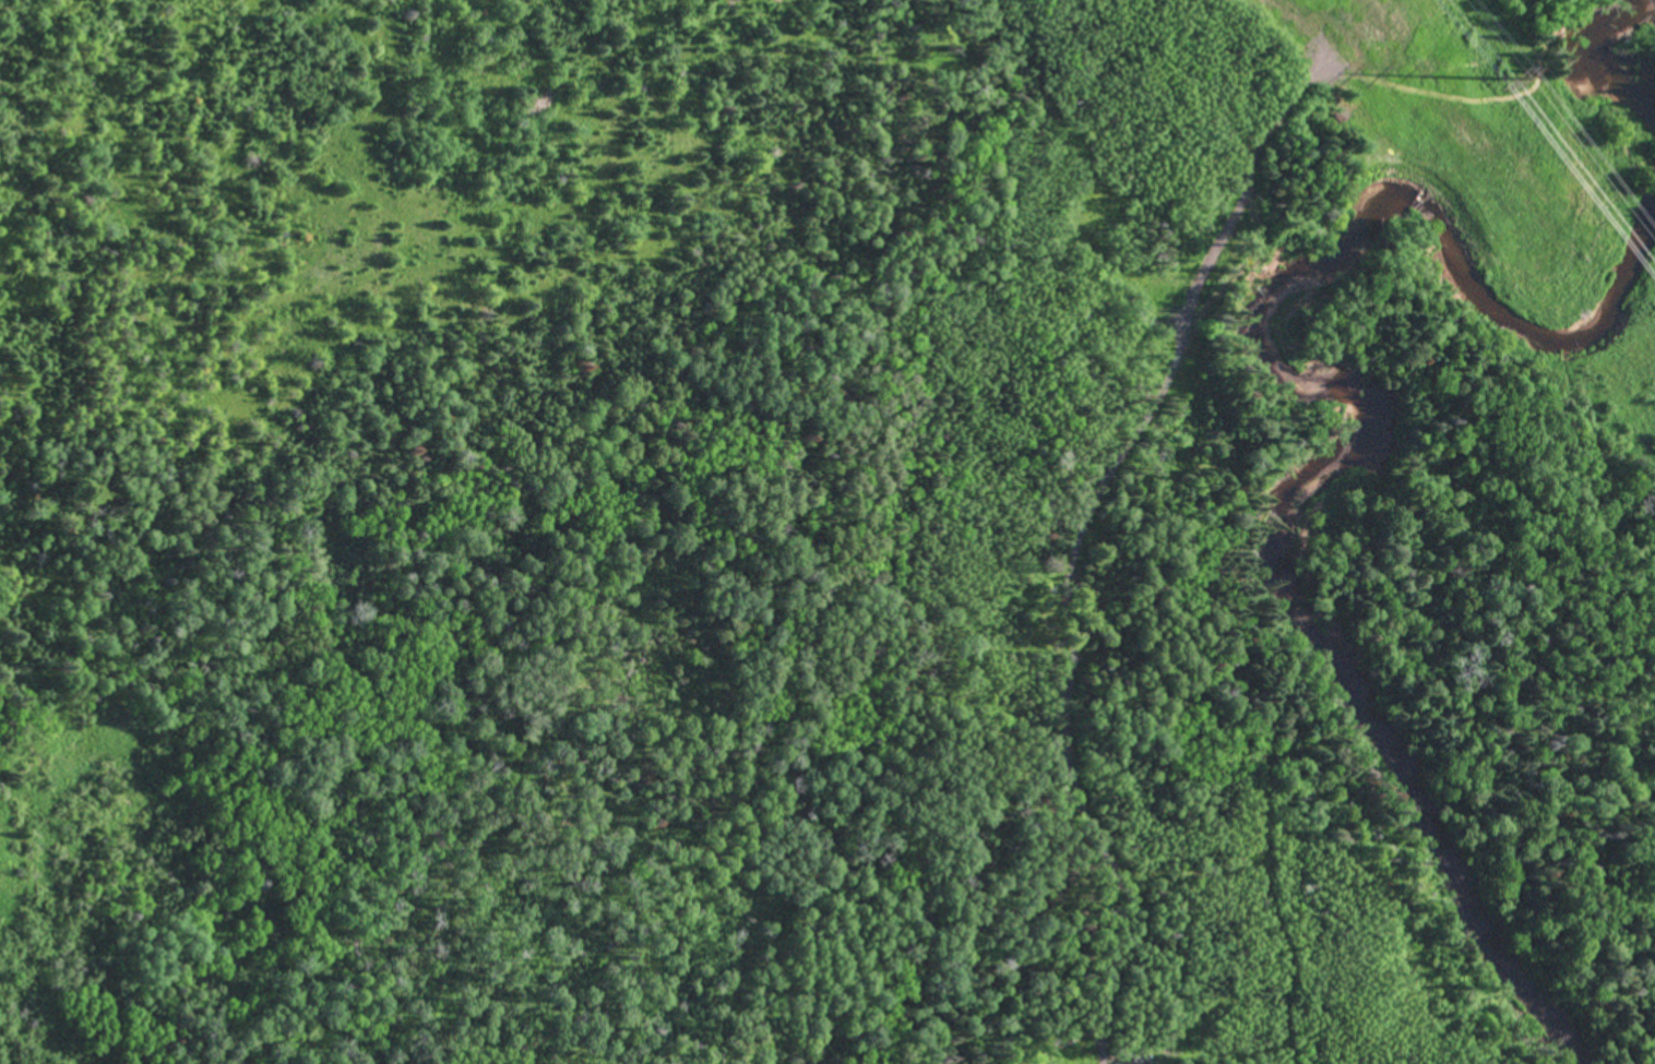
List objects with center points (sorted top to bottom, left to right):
power tower: (1496, 80)

